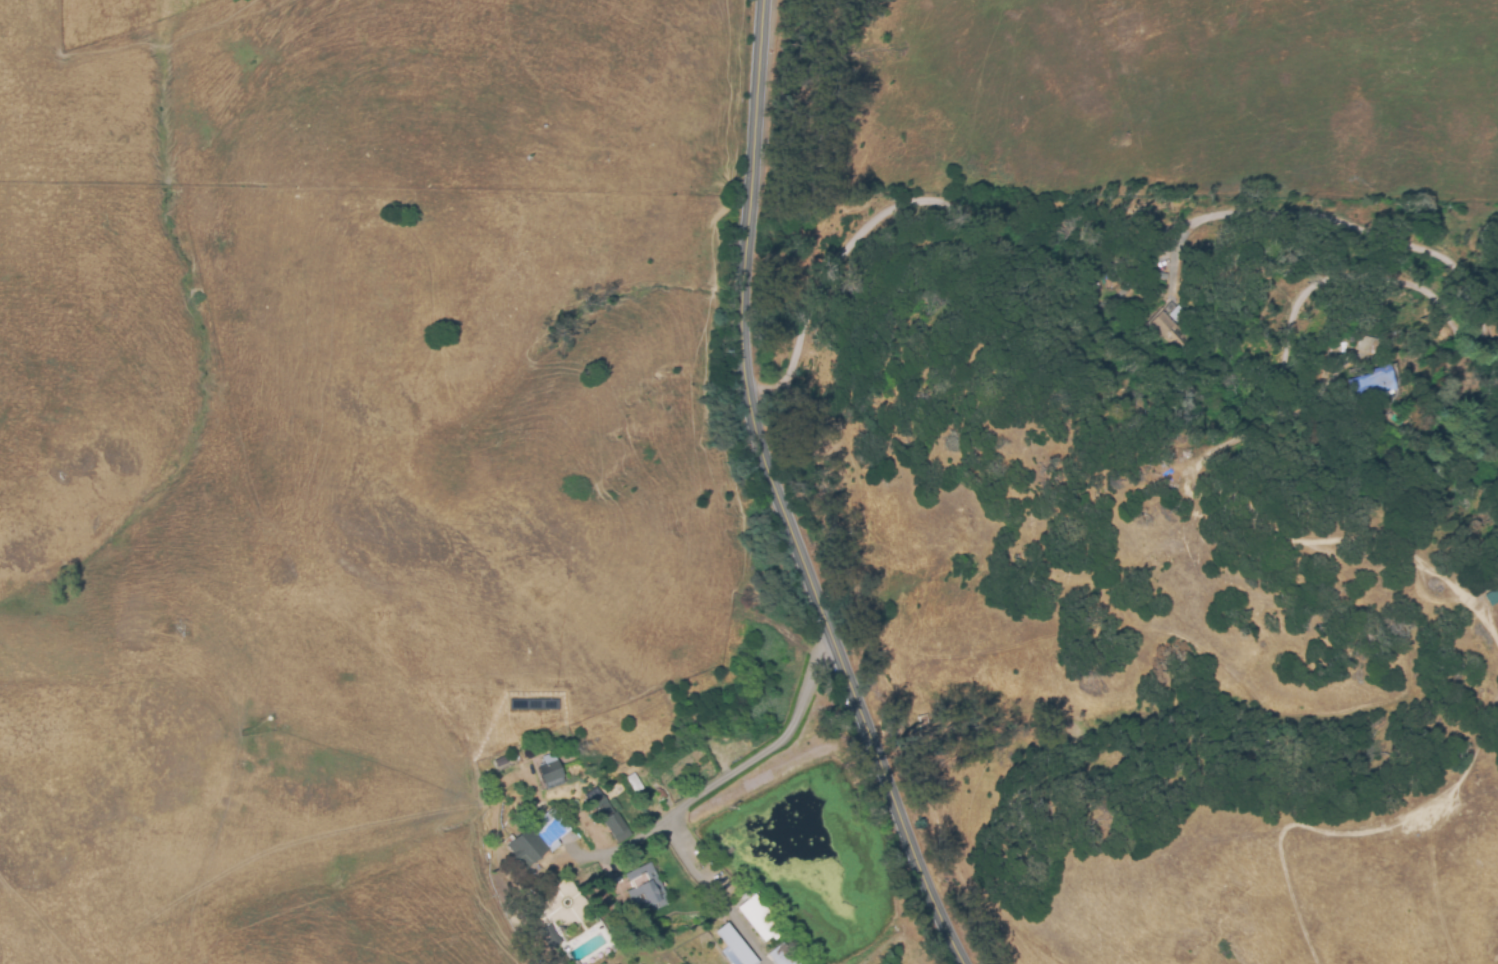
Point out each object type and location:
building: (1173, 328)
building: (1367, 345)
building: (1375, 388)
road: (779, 496)
building: (549, 772)
building: (634, 784)
road: (698, 794)
building: (606, 816)
building: (536, 840)
road: (624, 846)
building: (645, 889)
building: (604, 901)
building: (759, 920)
building: (550, 937)
building: (734, 946)
building: (781, 956)

